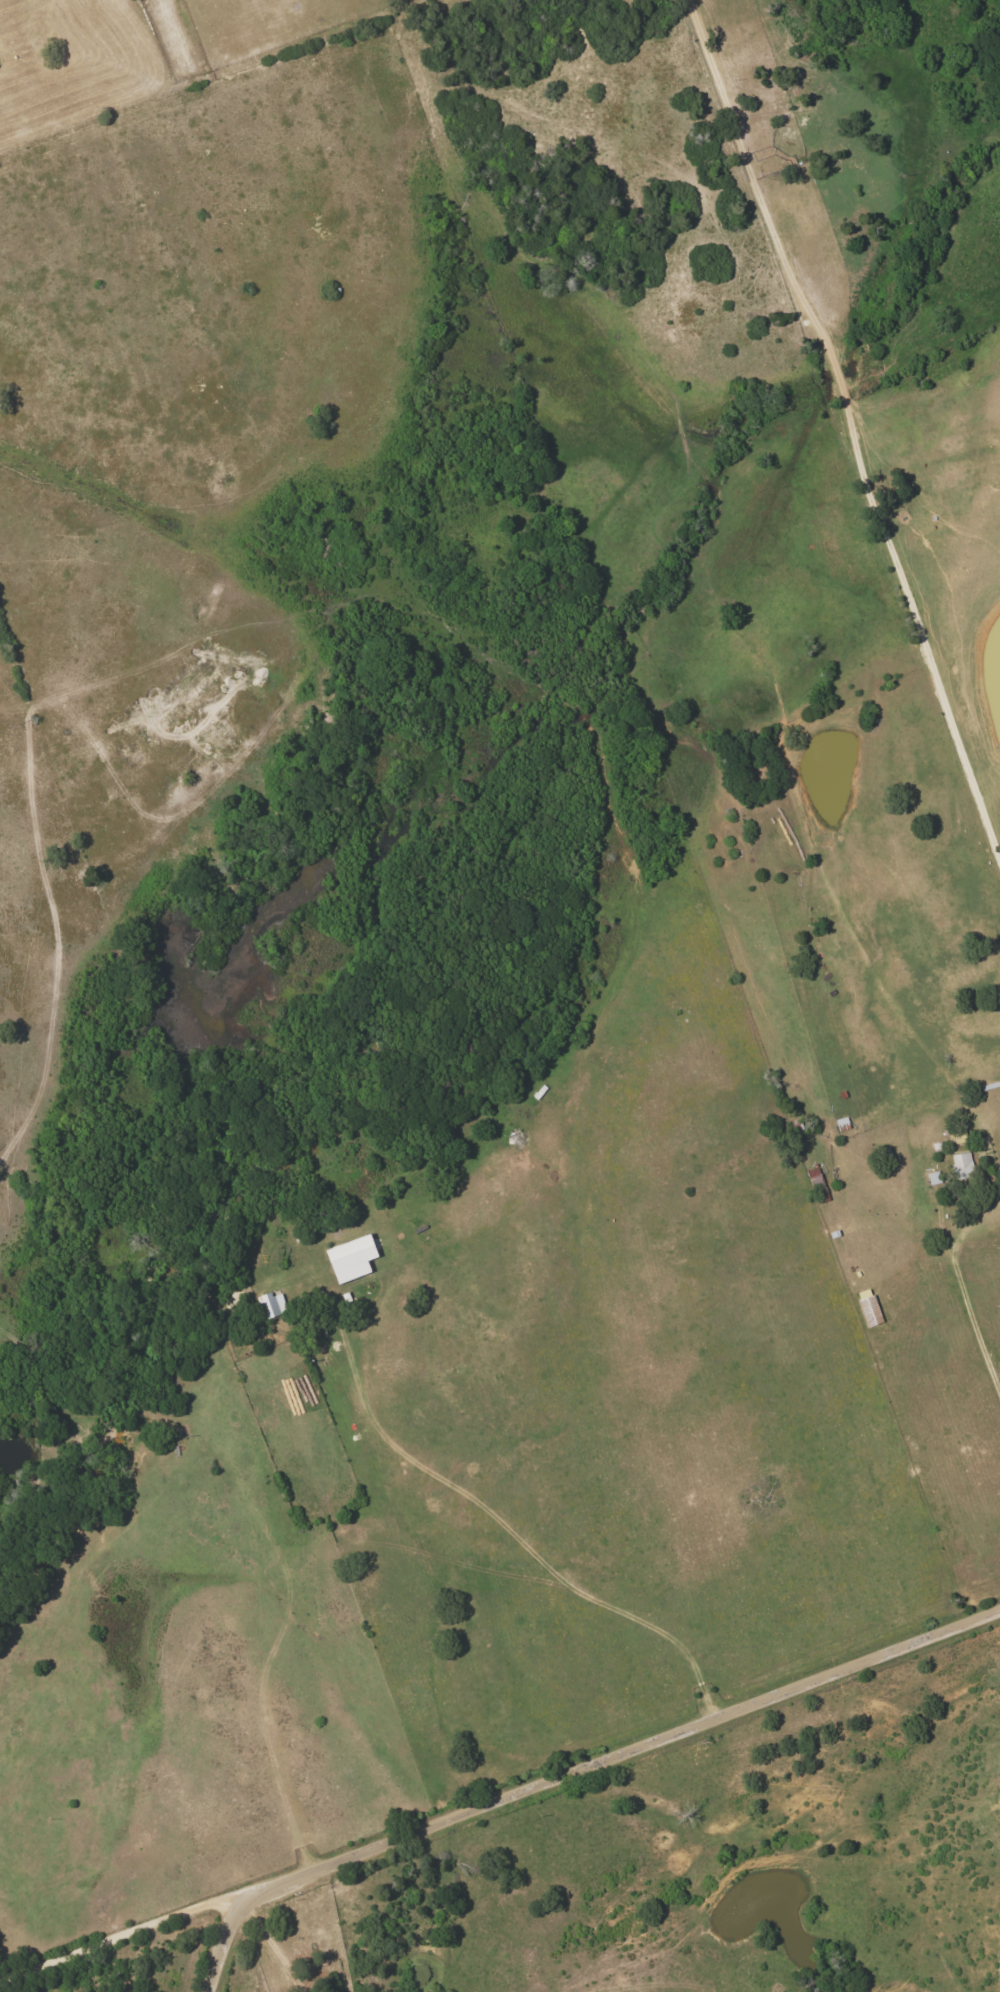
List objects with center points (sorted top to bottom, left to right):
road: (843, 433)
building: (961, 1166)
building: (350, 1258)
building: (273, 1306)
road: (974, 1328)
road: (575, 1769)
road: (123, 1931)
road: (283, 1945)

